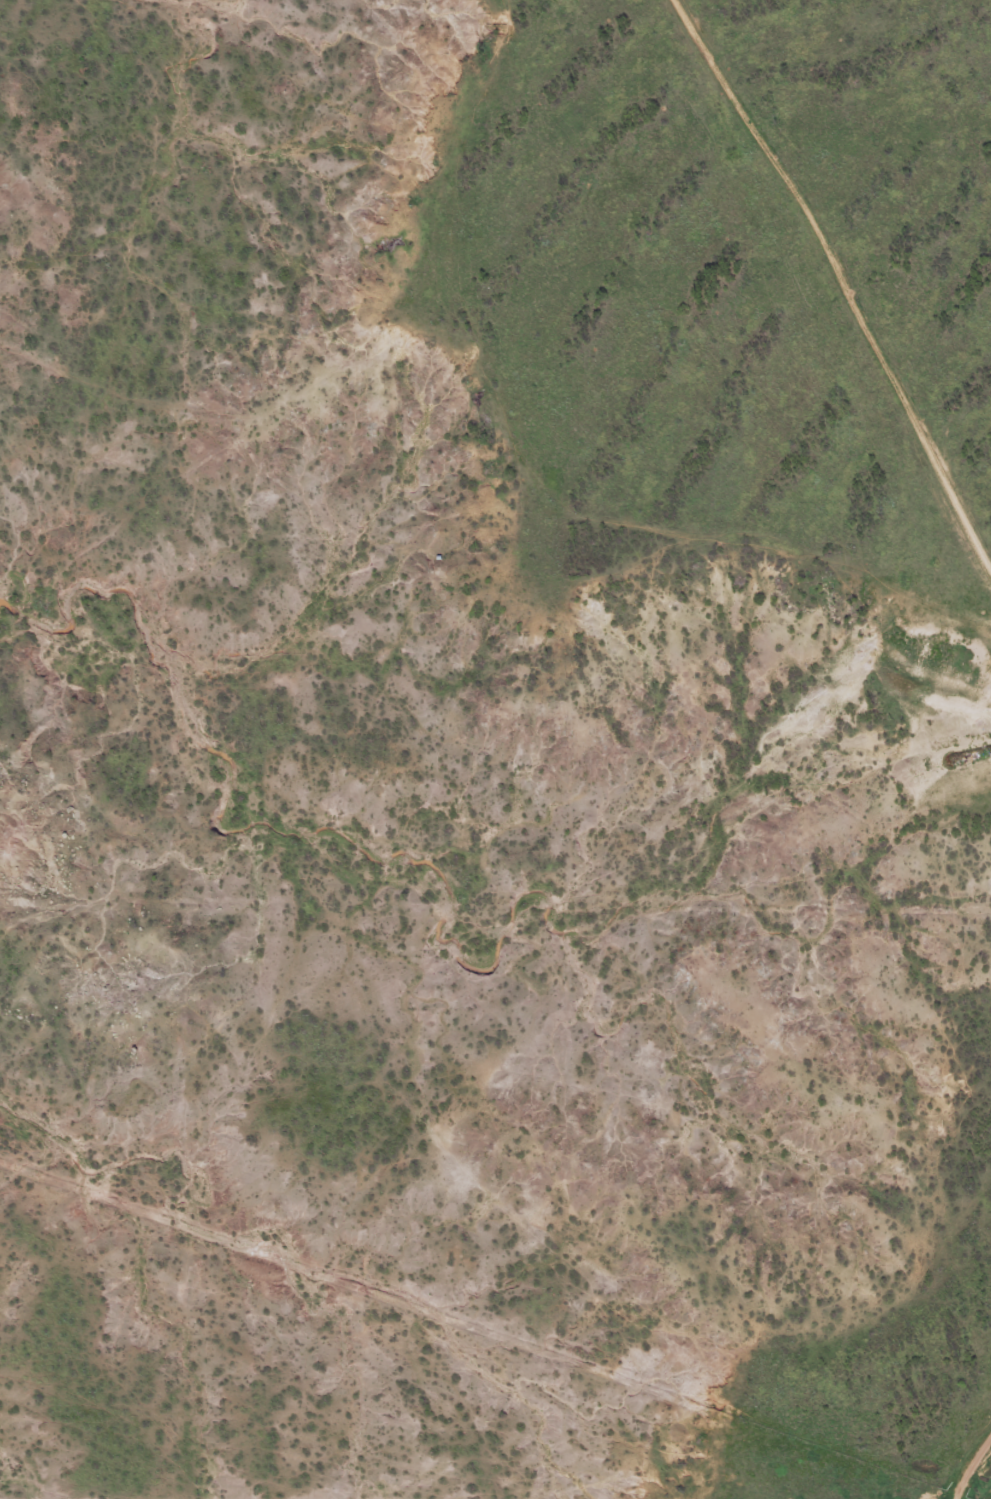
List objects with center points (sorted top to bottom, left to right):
road: (245, 1492)
road: (990, 1498)

